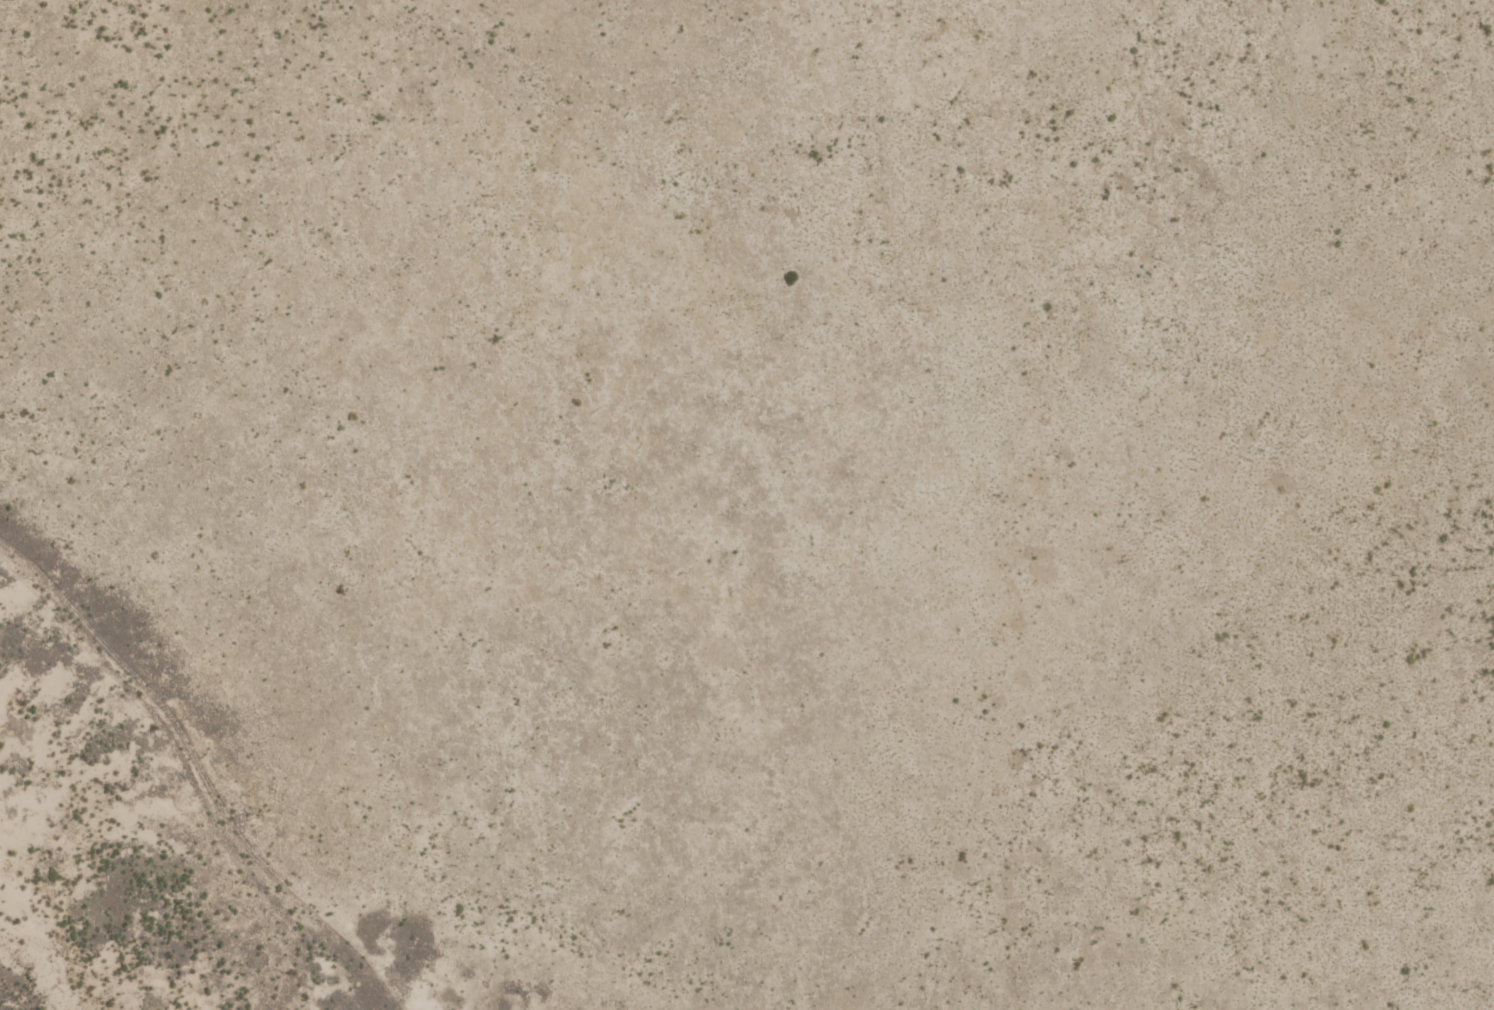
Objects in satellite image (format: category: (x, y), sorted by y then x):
road: (210, 770)

